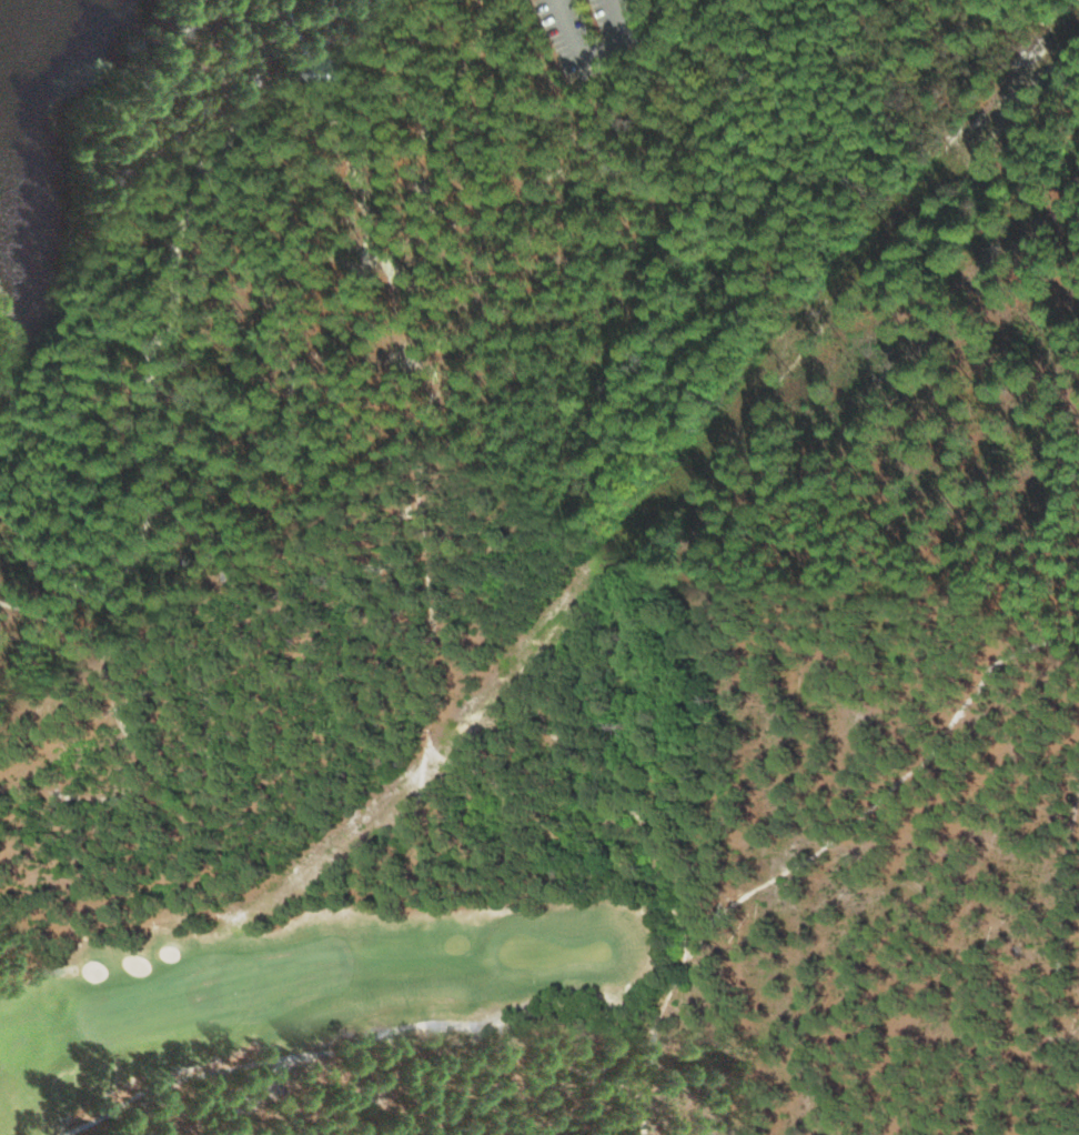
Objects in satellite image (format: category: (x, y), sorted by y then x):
parking lot: (561, 0)
road: (170, 372)
park: (60, 465)
park: (354, 1013)
road: (400, 1029)

